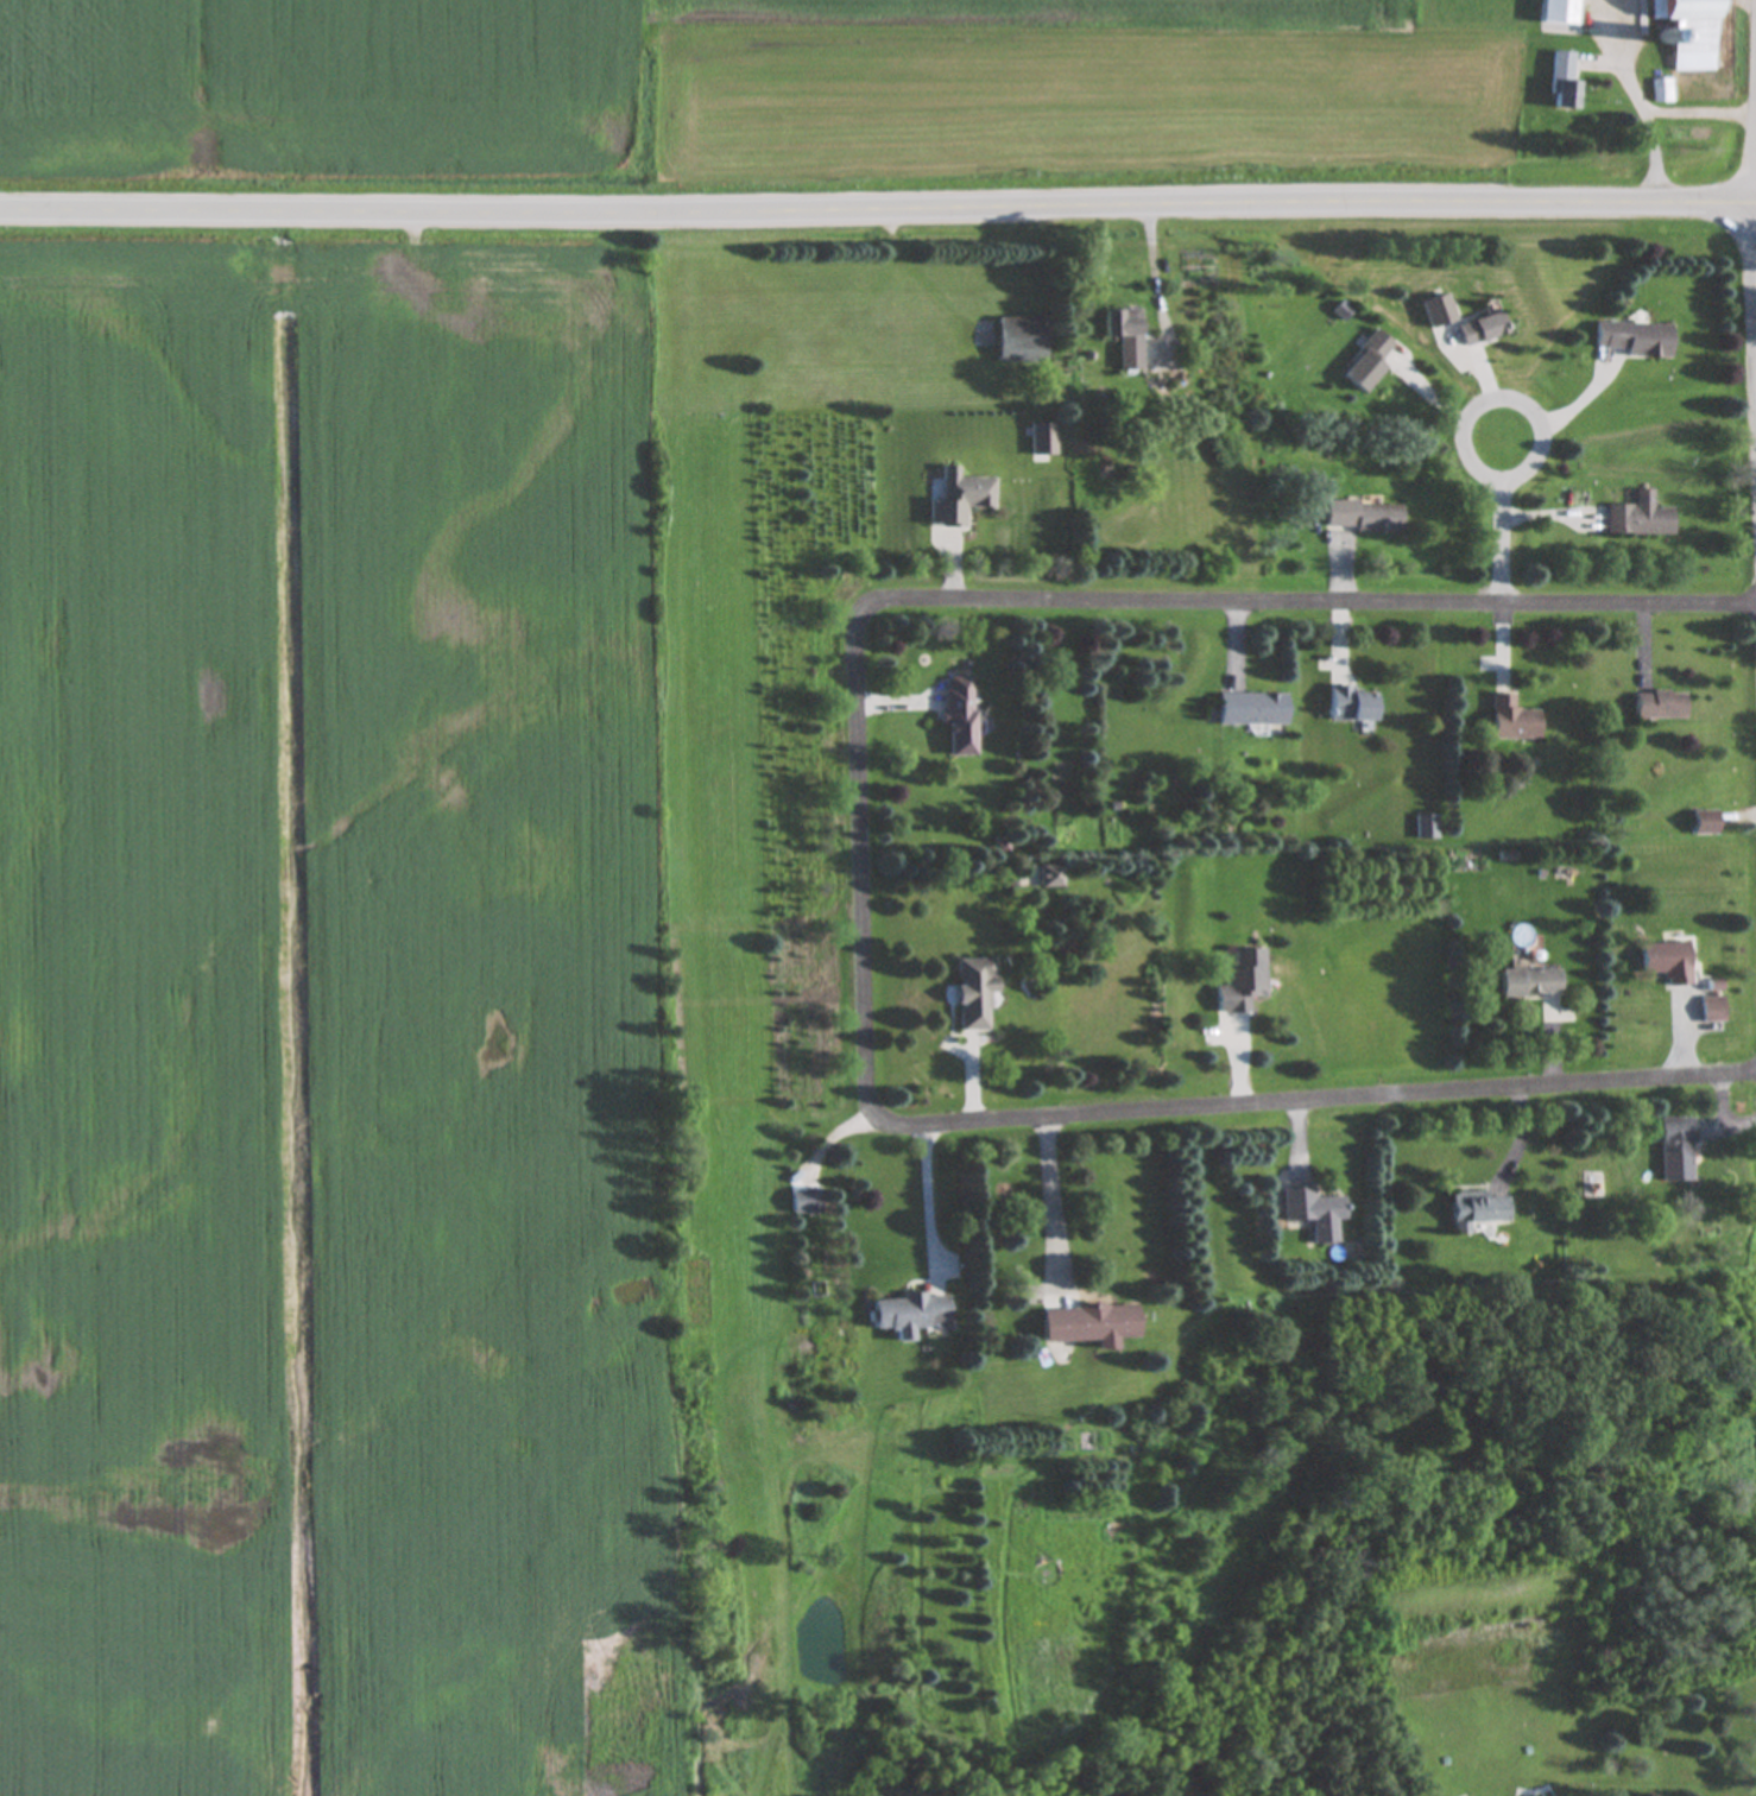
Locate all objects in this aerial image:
building: (1688, 25)
building: (1565, 83)
building: (1662, 90)
road: (1638, 101)
road: (1698, 113)
road: (878, 207)
road: (1754, 271)
road: (1154, 277)
building: (1439, 312)
building: (1484, 330)
building: (1126, 337)
building: (1635, 340)
building: (1023, 342)
building: (1369, 363)
building: (1044, 441)
building: (961, 500)
building: (1364, 518)
building: (1641, 519)
road: (1501, 520)
building: (1353, 703)
building: (1661, 706)
building: (1252, 708)
building: (962, 716)
building: (1514, 720)
building: (1706, 822)
road: (859, 859)
building: (1054, 875)
building: (1669, 960)
building: (1243, 981)
building: (1531, 981)
building: (977, 992)
building: (1713, 1008)
airport runway: (739, 1022)
building: (1678, 1149)
road: (1053, 1196)
road: (928, 1200)
building: (813, 1201)
building: (1477, 1209)
building: (1315, 1213)
building: (911, 1315)
building: (1092, 1324)

